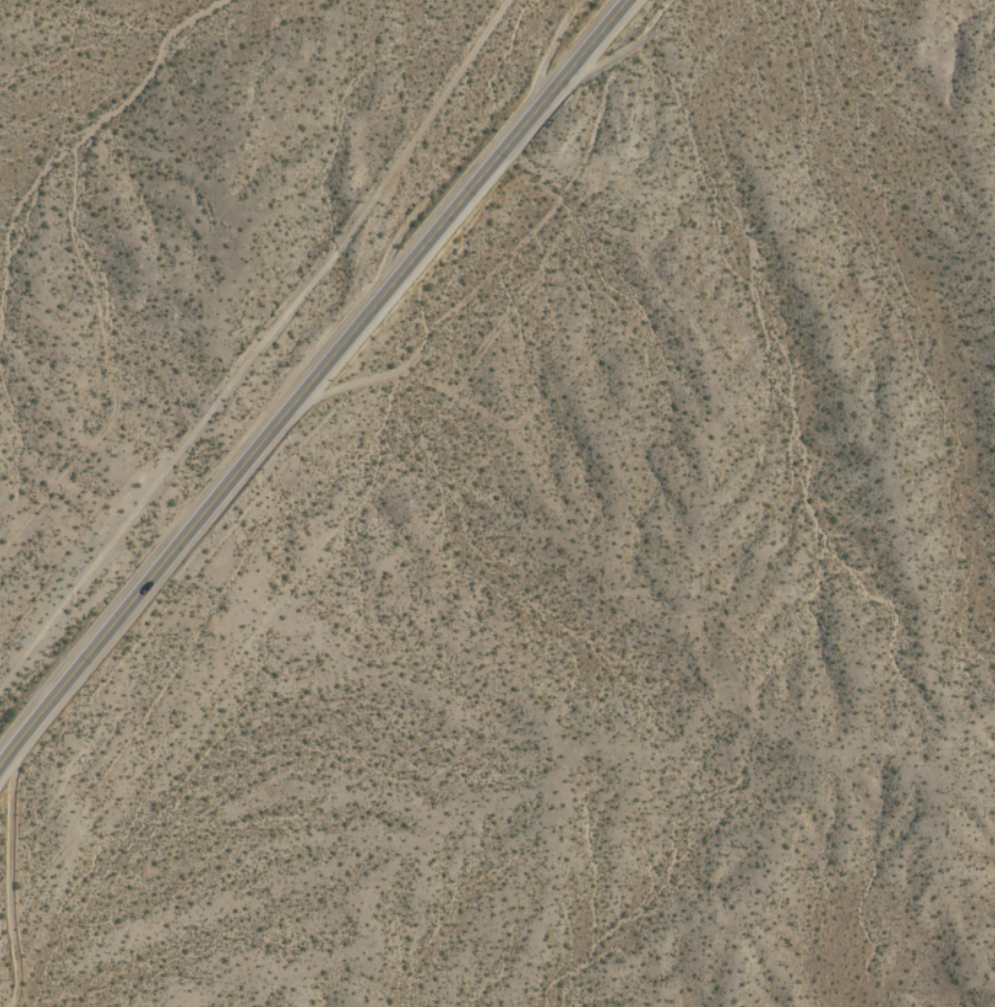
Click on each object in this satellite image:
road: (315, 381)

